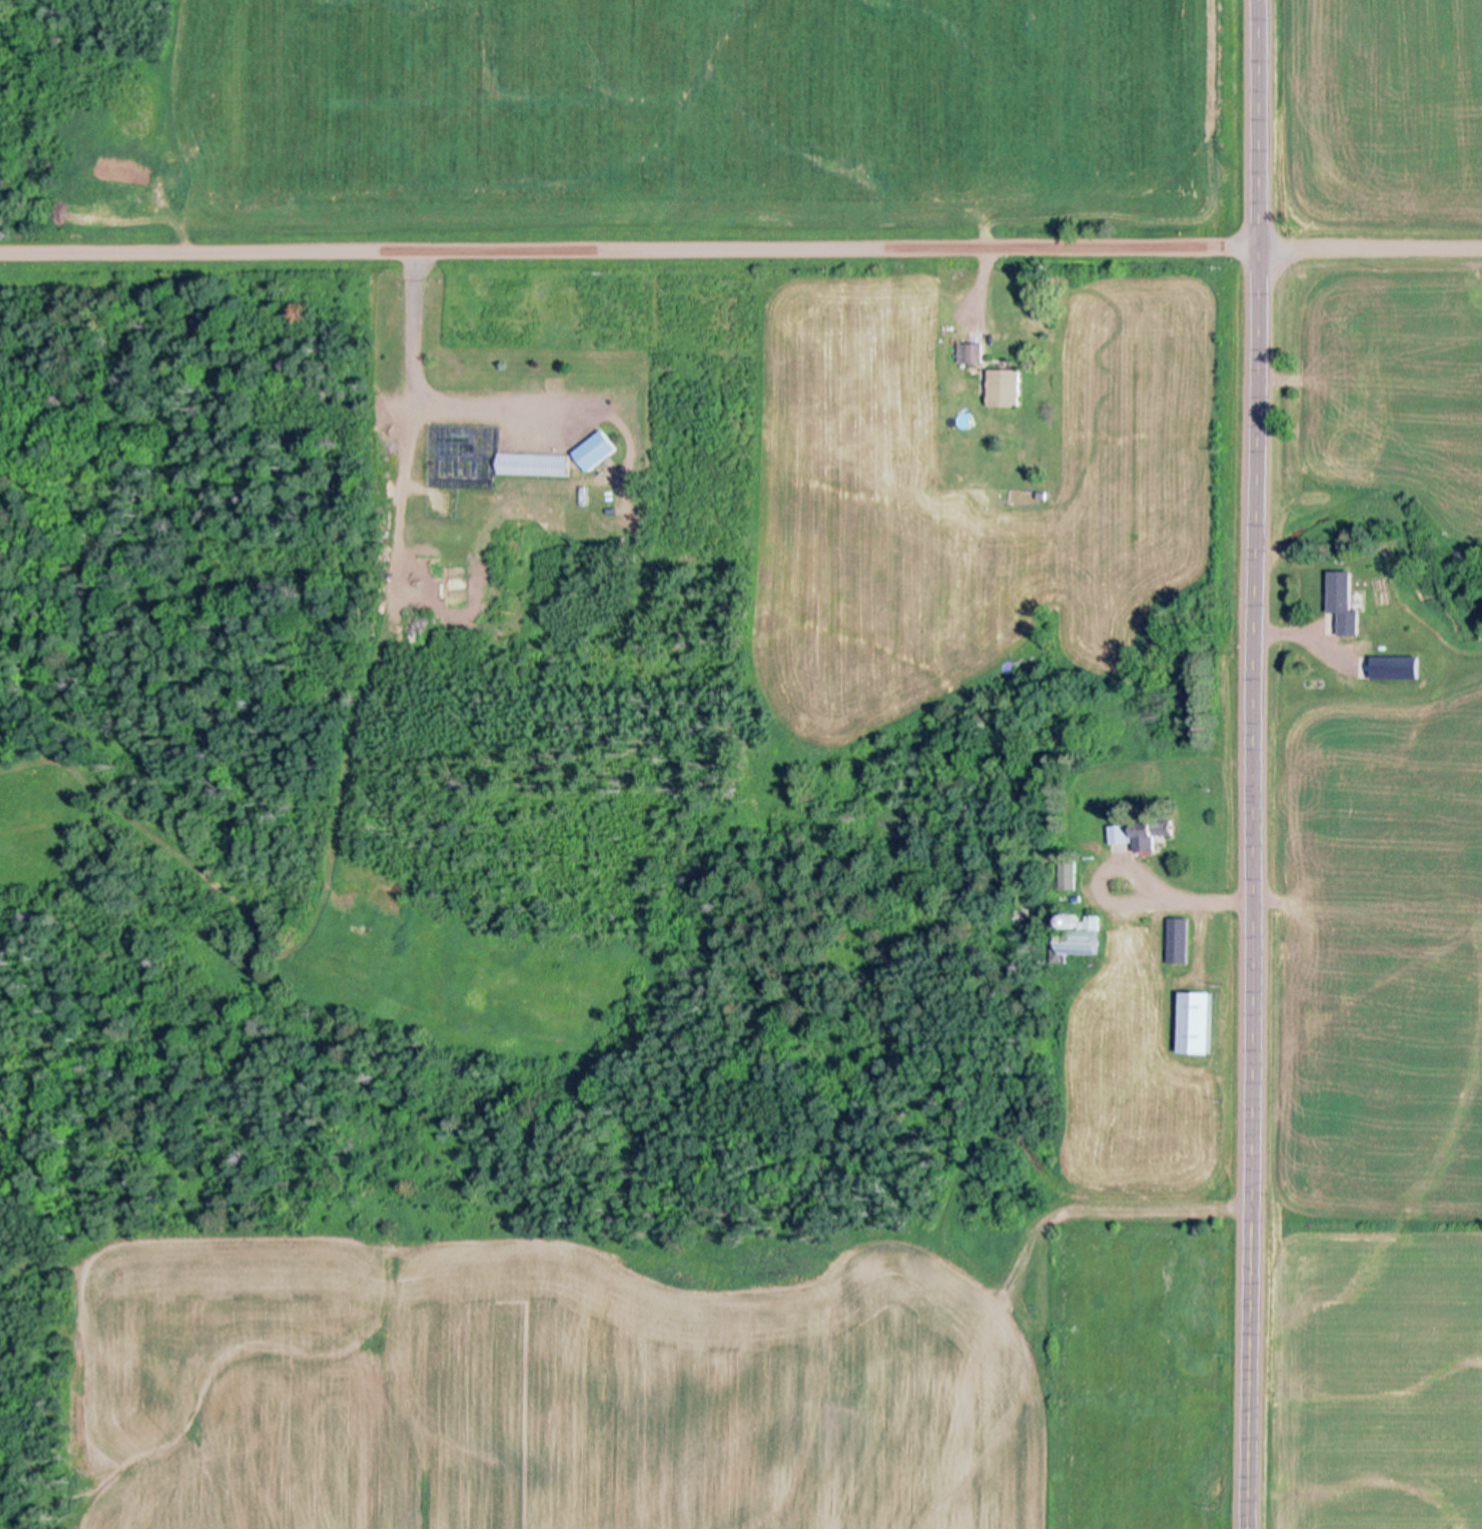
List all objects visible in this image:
road: (629, 245)
road: (1370, 248)
building: (975, 351)
building: (1006, 386)
building: (598, 449)
building: (534, 464)
building: (1343, 599)
building: (1389, 669)
road: (1258, 764)
building: (1167, 830)
building: (1131, 836)
building: (1070, 874)
building: (1078, 939)
building: (1180, 940)
building: (1195, 1021)

